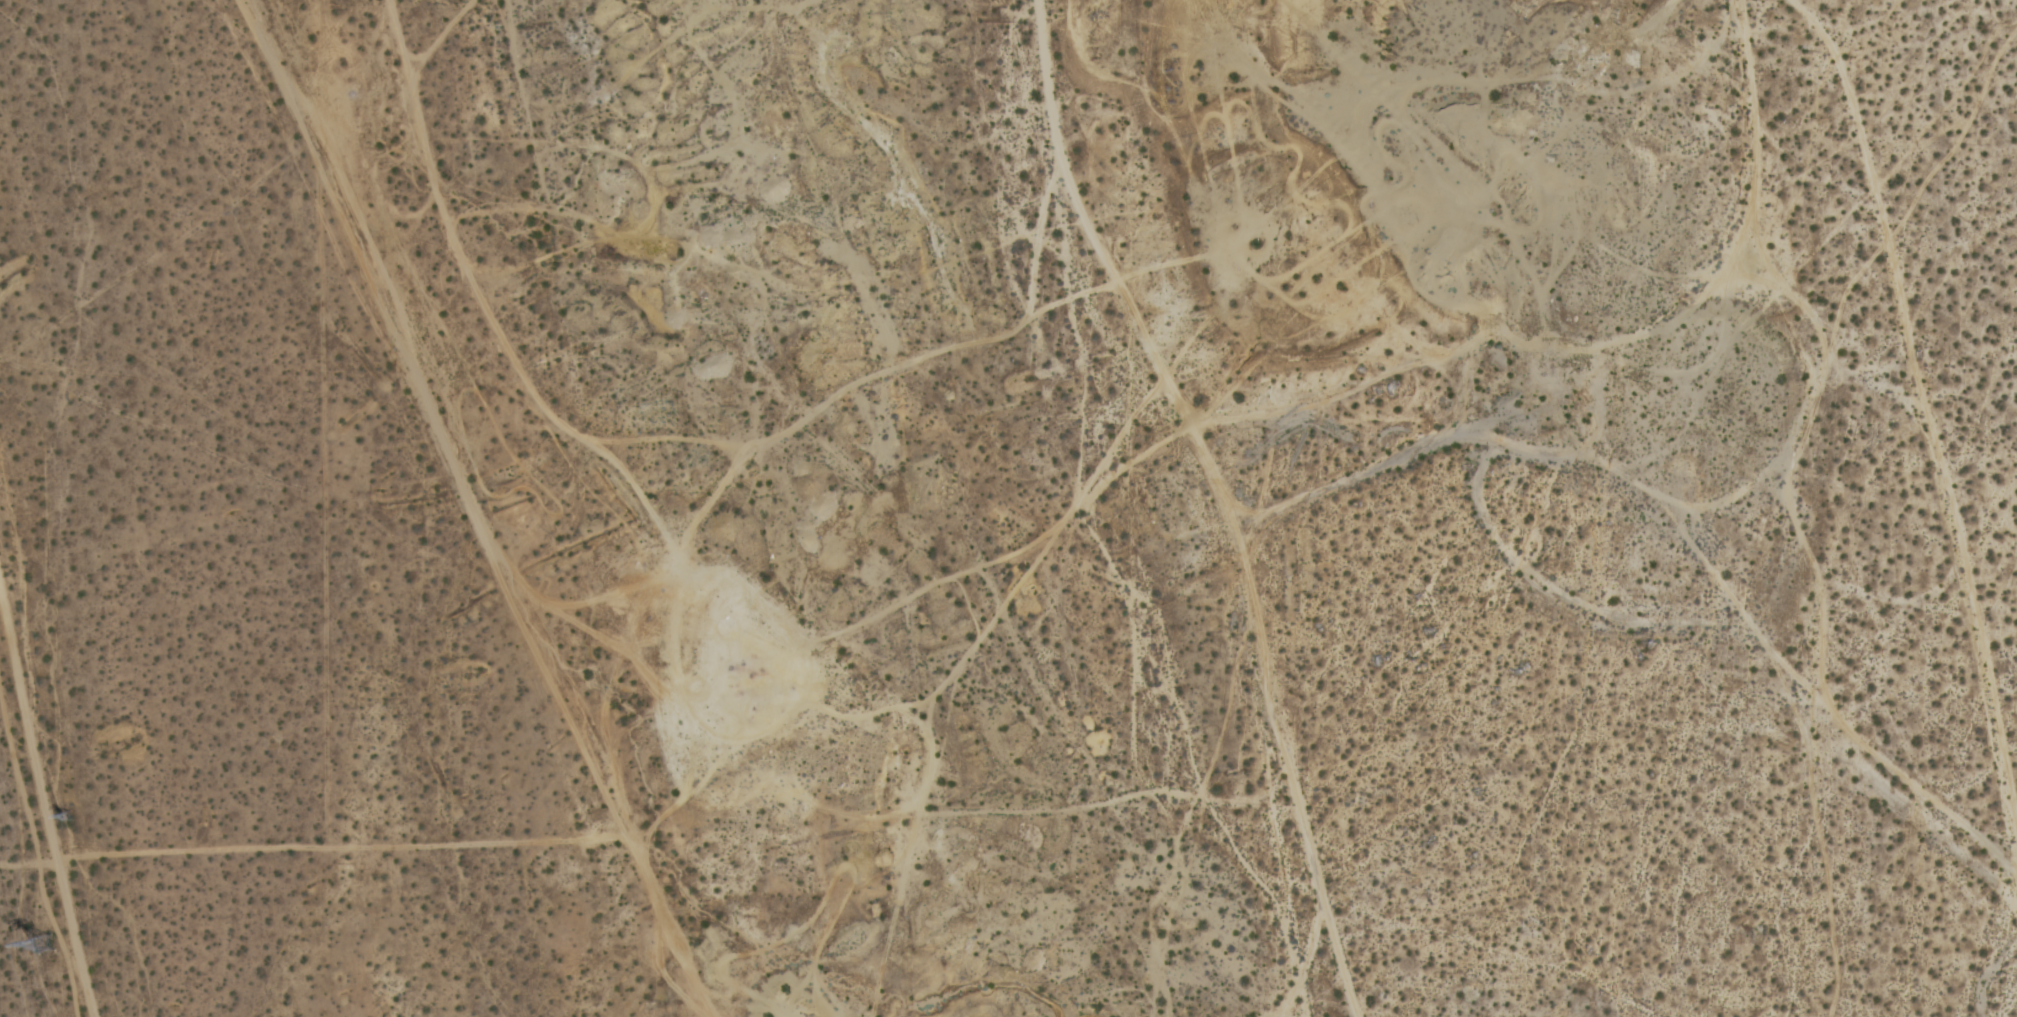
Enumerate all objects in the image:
road: (1222, 498)
road: (45, 815)
power tower: (62, 818)
power tower: (40, 948)

